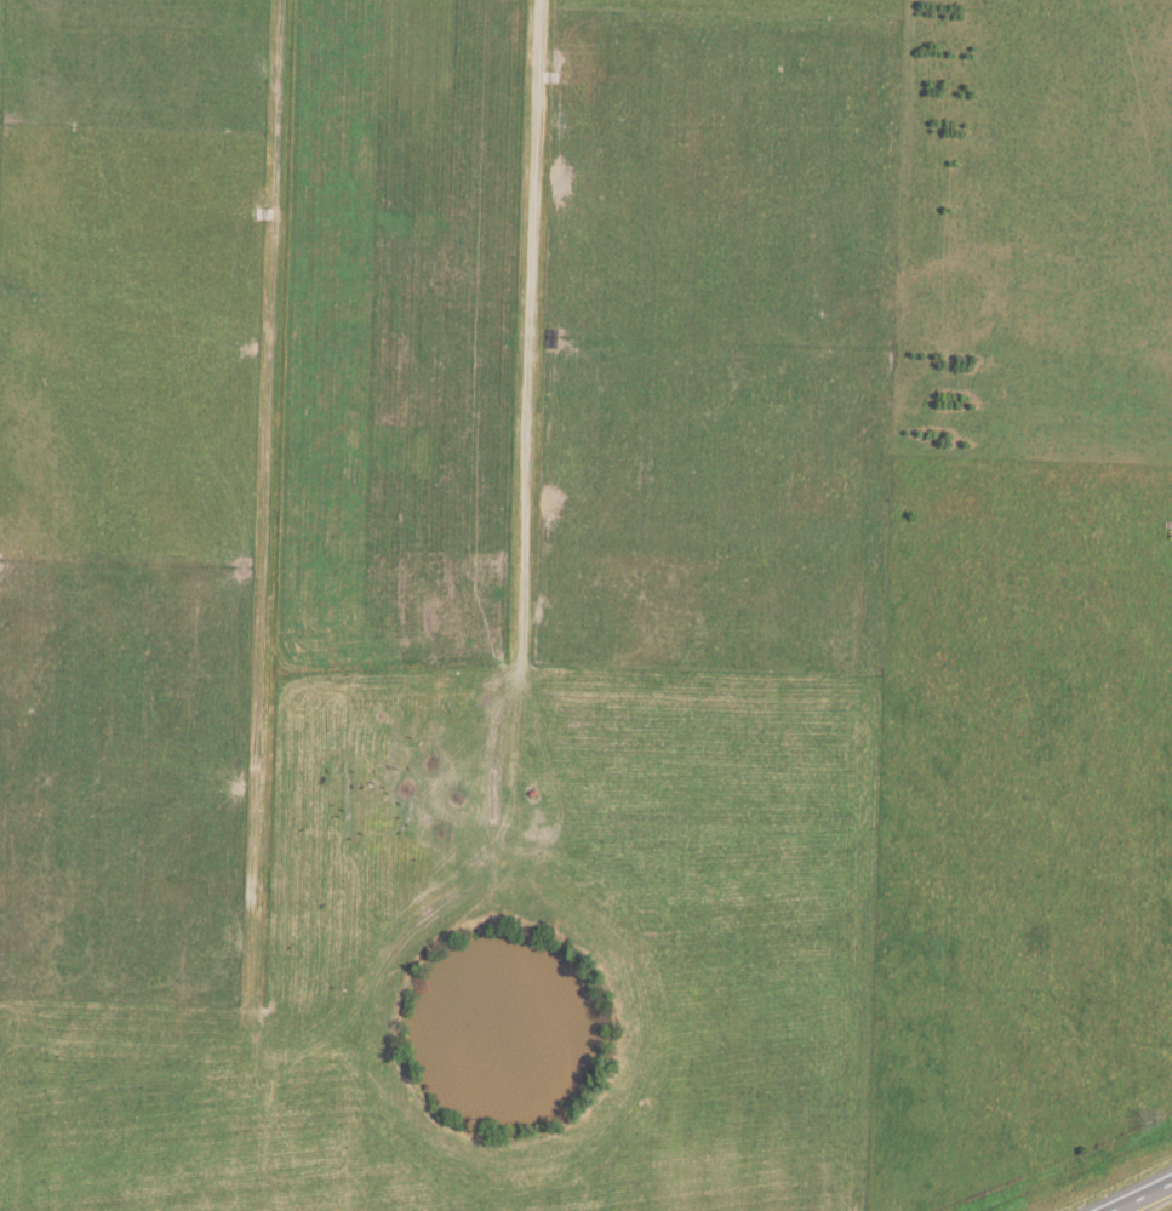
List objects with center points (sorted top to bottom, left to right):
road: (1142, 1196)

